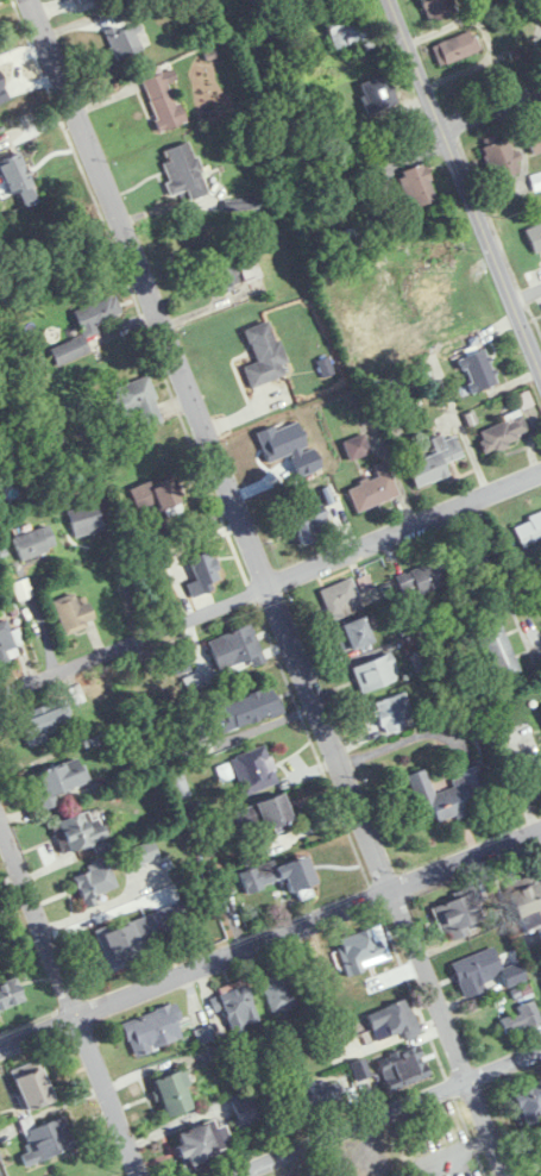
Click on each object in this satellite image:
building: (439, 8)
building: (350, 35)
building: (455, 48)
building: (377, 94)
building: (159, 98)
road: (490, 108)
building: (534, 137)
building: (501, 158)
building: (183, 171)
building: (18, 179)
road: (463, 180)
building: (536, 181)
building: (417, 186)
building: (535, 236)
building: (353, 237)
building: (224, 273)
road: (528, 292)
building: (87, 327)
building: (264, 355)
building: (478, 370)
building: (138, 401)
building: (504, 431)
building: (58, 443)
building: (435, 461)
building: (373, 489)
building: (157, 494)
building: (84, 520)
building: (310, 523)
building: (528, 531)
building: (33, 543)
building: (466, 559)
building: (205, 575)
building: (421, 578)
road: (122, 584)
road: (271, 584)
road: (275, 588)
building: (341, 598)
building: (73, 613)
road: (531, 632)
building: (353, 634)
building: (495, 639)
building: (7, 645)
building: (234, 648)
building: (376, 673)
building: (249, 709)
building: (389, 714)
building: (45, 724)
building: (254, 770)
building: (58, 782)
building: (449, 794)
building: (273, 812)
building: (74, 830)
building: (146, 852)
building: (279, 875)
building: (94, 881)
building: (527, 906)
building: (458, 915)
road: (270, 936)
building: (122, 944)
building: (363, 949)
building: (476, 971)
building: (281, 992)
building: (11, 994)
road: (70, 997)
building: (235, 1007)
building: (521, 1019)
building: (394, 1021)
building: (153, 1030)
building: (403, 1068)
building: (32, 1087)
building: (174, 1094)
building: (316, 1096)
building: (527, 1106)
building: (245, 1109)
road: (386, 1115)
building: (48, 1140)
building: (199, 1145)
road: (373, 1150)
road: (332, 1158)
road: (239, 1175)

